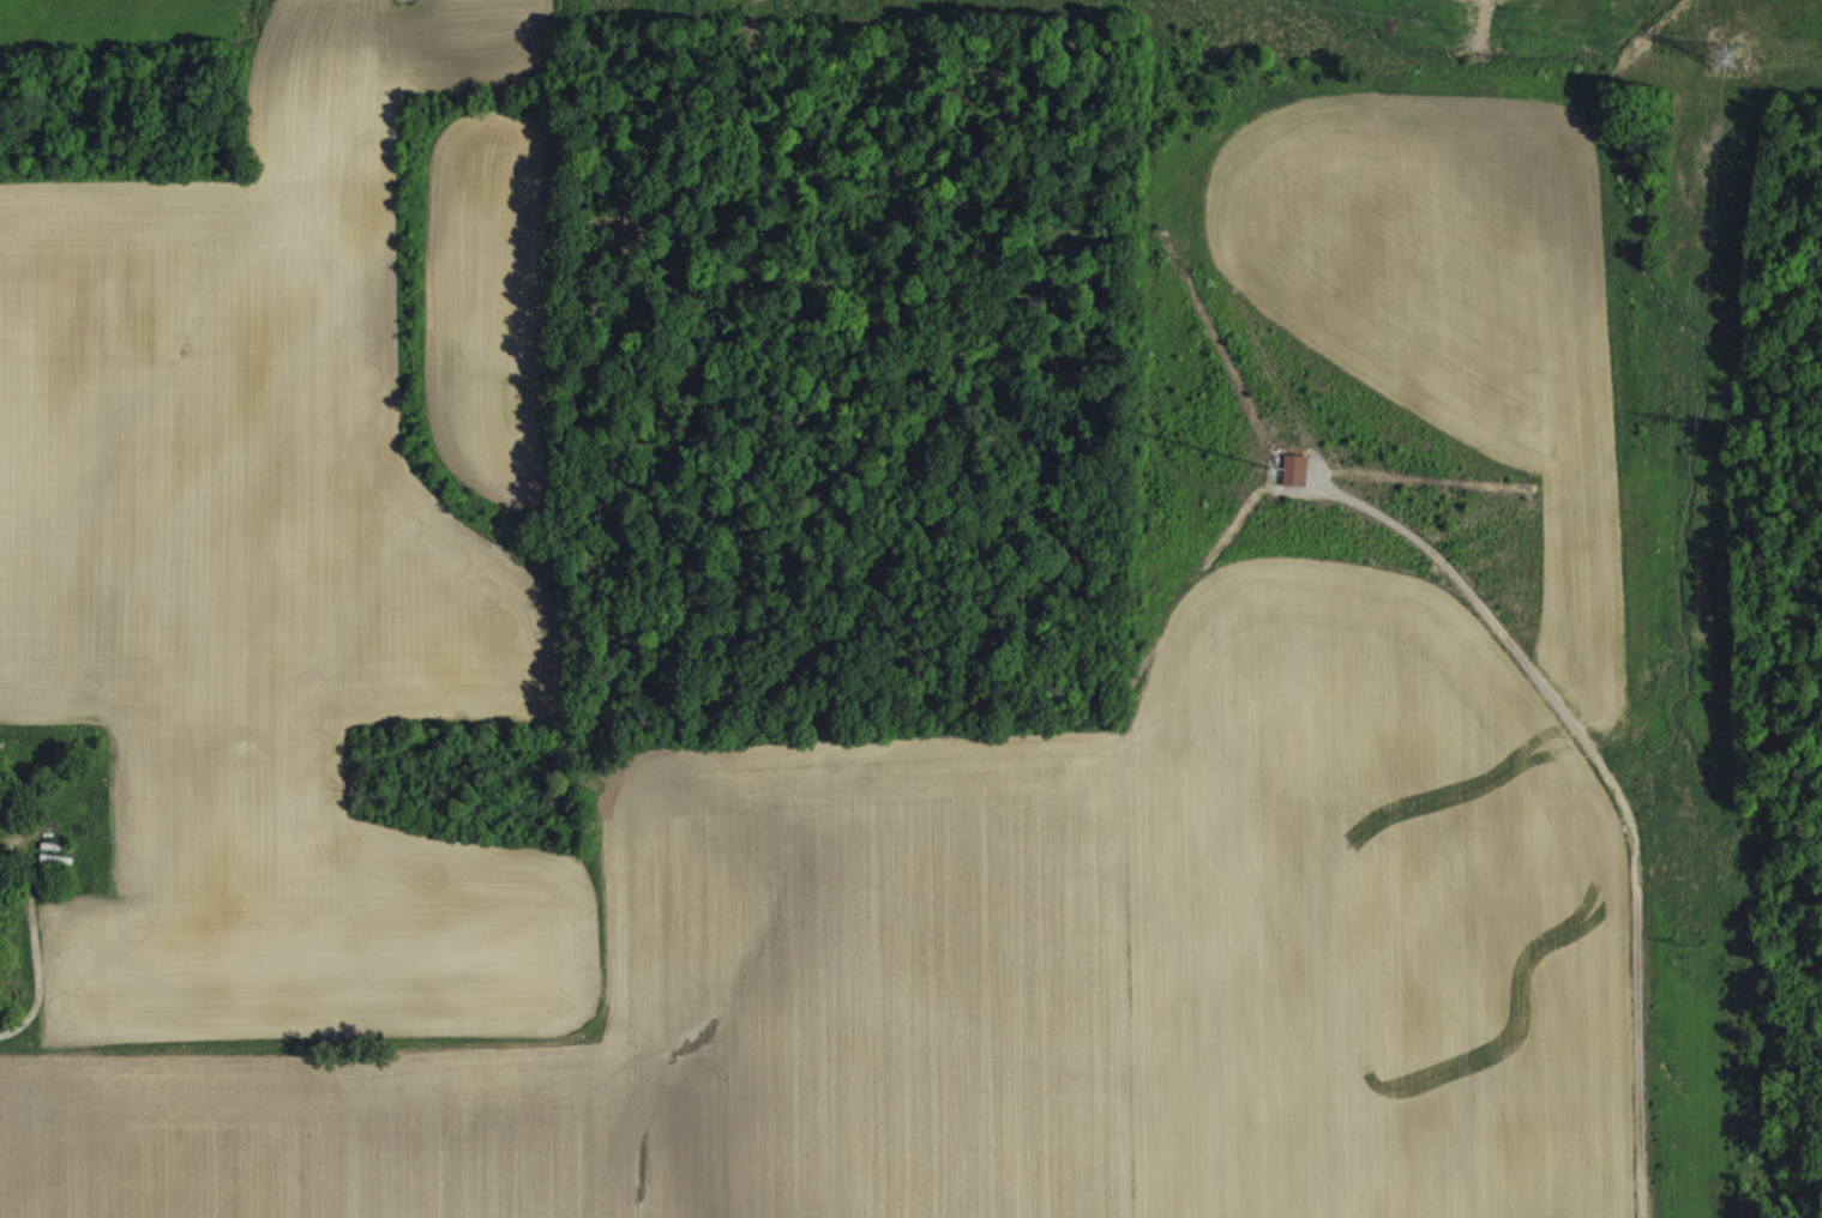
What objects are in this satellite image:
power tower: (408, 2)
power tower: (1725, 58)
power tower: (1677, 420)
building: (1295, 483)
road: (1613, 796)
road: (36, 951)

